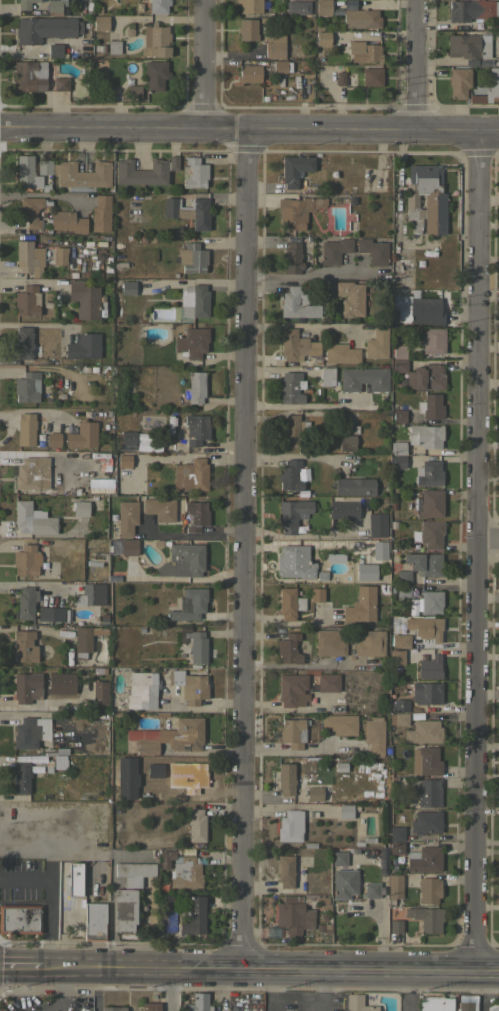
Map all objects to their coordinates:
building: (24, 4)
building: (55, 5)
building: (158, 6)
building: (249, 6)
building: (297, 7)
building: (323, 7)
building: (471, 9)
building: (359, 16)
building: (100, 22)
building: (45, 28)
building: (247, 29)
building: (323, 38)
building: (155, 40)
building: (274, 45)
building: (114, 46)
building: (467, 46)
building: (55, 50)
building: (364, 51)
building: (281, 66)
road: (204, 67)
road: (412, 67)
building: (249, 73)
building: (29, 75)
building: (372, 76)
building: (150, 78)
building: (345, 78)
building: (458, 82)
building: (61, 83)
building: (488, 89)
road: (249, 134)
building: (173, 162)
building: (295, 169)
building: (26, 172)
building: (141, 172)
building: (194, 172)
building: (77, 174)
road: (43, 194)
building: (425, 199)
road: (397, 208)
building: (32, 209)
building: (188, 210)
building: (297, 211)
building: (101, 213)
building: (67, 220)
building: (334, 250)
building: (373, 250)
building: (60, 255)
building: (28, 258)
building: (192, 258)
building: (292, 258)
road: (308, 275)
building: (128, 287)
building: (350, 298)
building: (84, 299)
building: (27, 300)
building: (194, 300)
building: (297, 304)
building: (418, 309)
road: (301, 325)
building: (433, 340)
building: (23, 342)
building: (376, 343)
building: (84, 345)
building: (190, 345)
building: (296, 345)
building: (399, 351)
building: (341, 353)
building: (399, 364)
building: (327, 376)
building: (426, 377)
building: (363, 379)
building: (195, 386)
building: (27, 387)
building: (290, 387)
road: (300, 405)
building: (431, 405)
building: (399, 415)
building: (26, 428)
building: (196, 428)
building: (293, 430)
building: (82, 434)
building: (425, 435)
building: (53, 439)
building: (127, 440)
building: (347, 443)
building: (398, 447)
road: (291, 455)
building: (124, 460)
building: (398, 461)
building: (32, 473)
building: (429, 473)
building: (191, 475)
building: (289, 475)
building: (354, 486)
building: (431, 503)
building: (80, 508)
building: (160, 508)
building: (343, 510)
building: (292, 513)
building: (196, 515)
building: (126, 517)
building: (32, 519)
building: (376, 524)
road: (193, 534)
building: (431, 534)
road: (303, 535)
road: (487, 538)
building: (123, 546)
road: (242, 550)
building: (379, 550)
road: (475, 552)
building: (335, 557)
building: (26, 560)
building: (182, 560)
building: (294, 561)
building: (424, 563)
building: (365, 571)
building: (403, 576)
building: (402, 590)
building: (87, 594)
building: (316, 594)
building: (26, 602)
building: (431, 602)
building: (289, 603)
building: (189, 604)
building: (360, 605)
building: (414, 605)
building: (50, 613)
building: (424, 626)
building: (85, 639)
building: (400, 640)
building: (329, 643)
building: (369, 643)
building: (24, 645)
building: (197, 647)
building: (288, 648)
building: (396, 656)
building: (430, 667)
building: (328, 682)
building: (189, 685)
building: (26, 687)
building: (291, 689)
building: (142, 690)
building: (99, 692)
building: (426, 692)
building: (119, 704)
building: (400, 705)
building: (400, 718)
building: (339, 724)
building: (423, 731)
building: (293, 732)
building: (26, 733)
building: (173, 736)
building: (373, 736)
road: (290, 750)
building: (425, 760)
building: (339, 767)
building: (155, 770)
building: (21, 777)
building: (192, 777)
building: (286, 778)
building: (429, 792)
building: (314, 793)
building: (345, 811)
building: (426, 822)
building: (196, 824)
building: (290, 825)
building: (396, 833)
building: (396, 847)
building: (166, 857)
building: (424, 859)
building: (288, 871)
building: (134, 873)
building: (186, 873)
building: (382, 875)
building: (342, 877)
building: (74, 880)
building: (394, 885)
building: (428, 889)
road: (48, 899)
building: (317, 901)
building: (164, 902)
building: (124, 909)
building: (193, 916)
building: (293, 916)
building: (425, 917)
building: (19, 918)
building: (94, 921)
building: (395, 926)
building: (323, 927)
road: (18, 965)
road: (268, 968)
road: (96, 988)
road: (167, 988)
road: (320, 991)
road: (406, 991)
building: (197, 1003)
building: (358, 1003)
building: (434, 1003)
building: (466, 1003)
building: (150, 1006)
building: (493, 1007)
building: (113, 1008)

